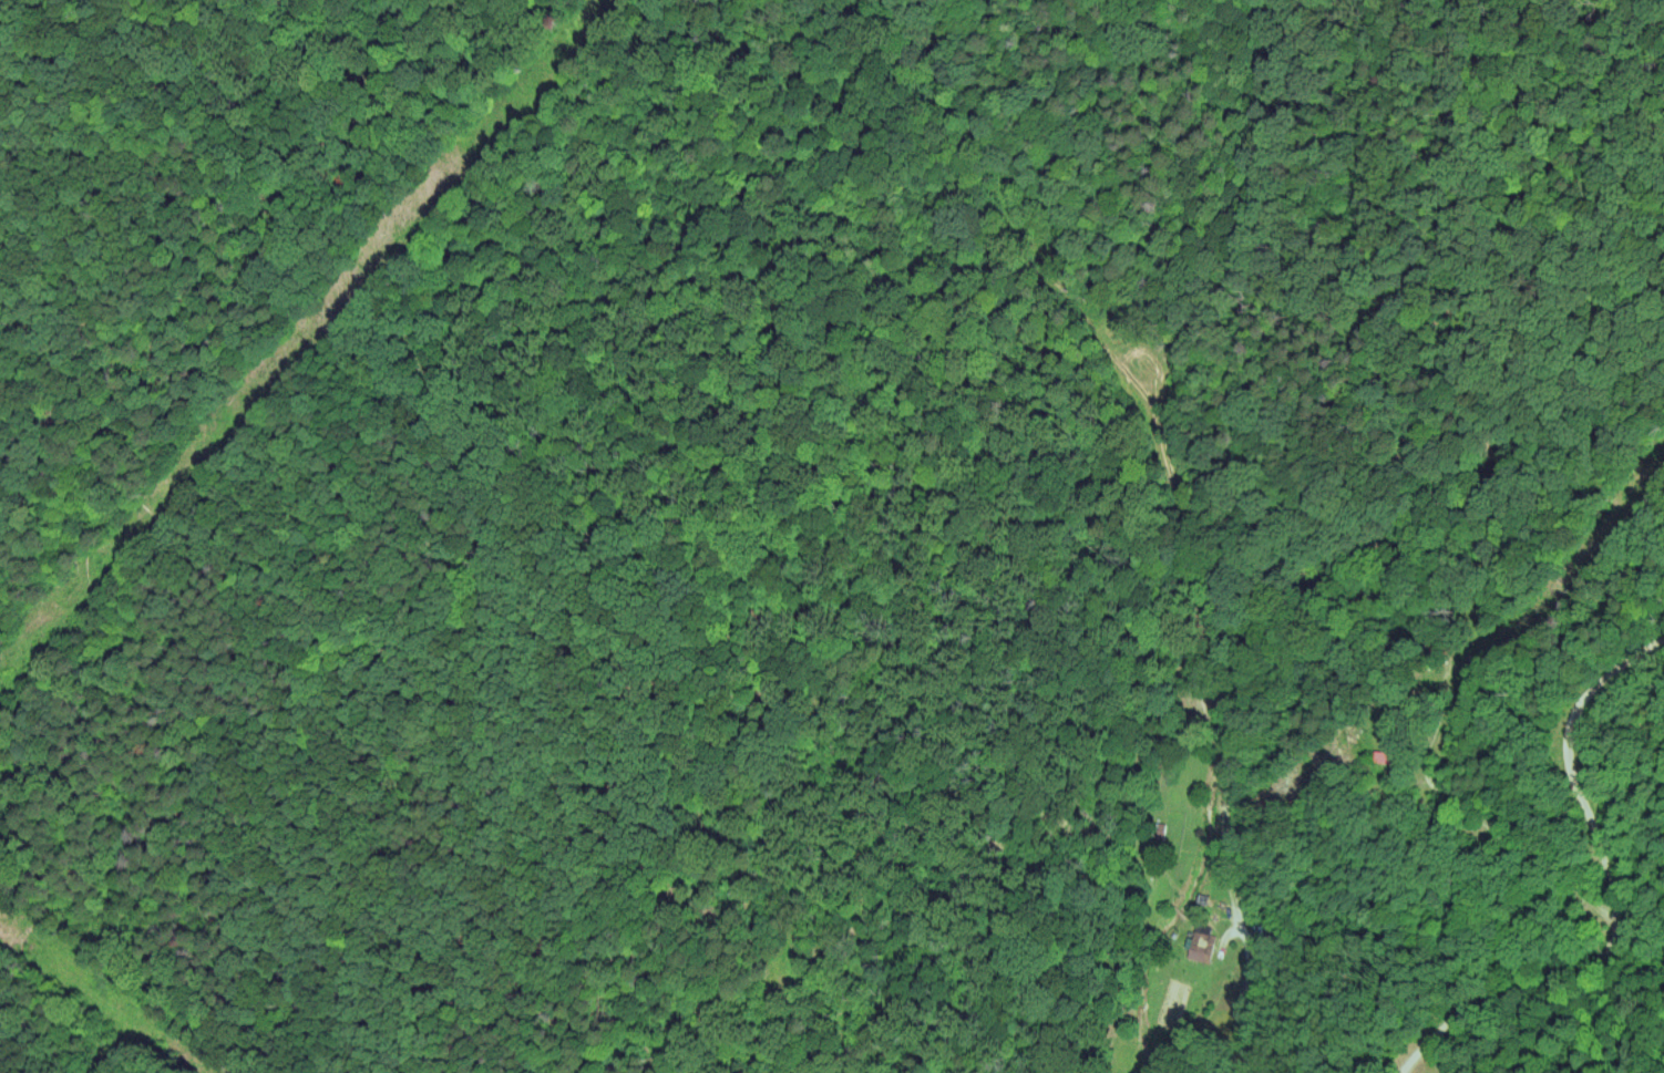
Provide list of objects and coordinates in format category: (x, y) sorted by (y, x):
road: (1612, 888)
building: (1202, 940)
road: (1239, 973)

